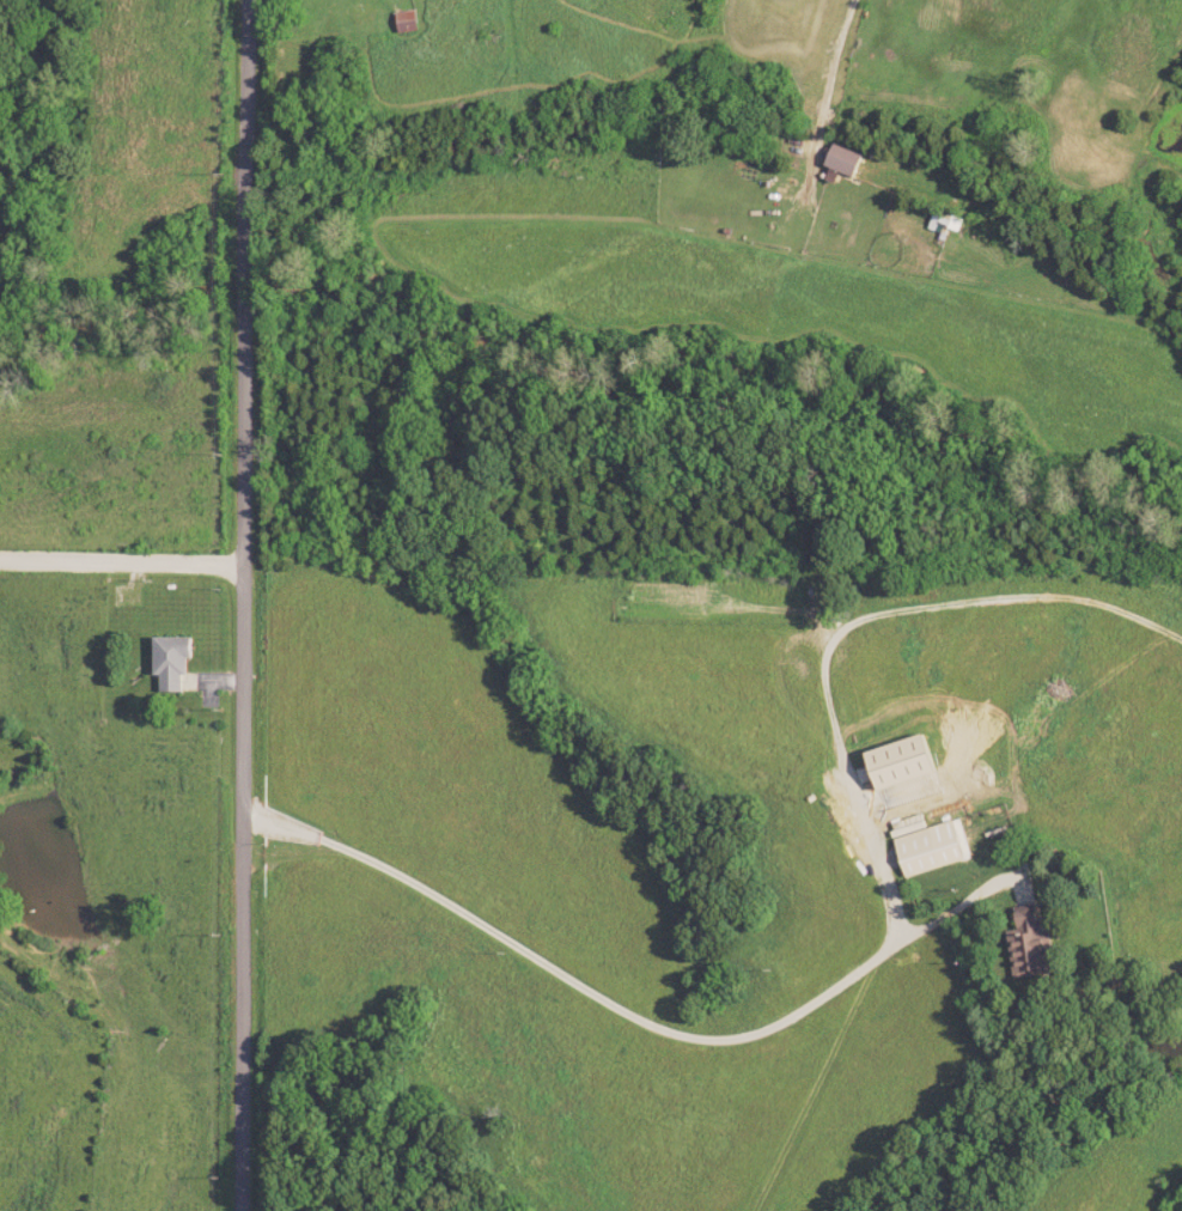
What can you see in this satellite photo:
road: (834, 71)
building: (846, 163)
road: (122, 564)
road: (244, 604)
road: (854, 627)
building: (177, 662)
building: (910, 762)
building: (910, 827)
building: (934, 850)
building: (1037, 944)
road: (626, 1012)

